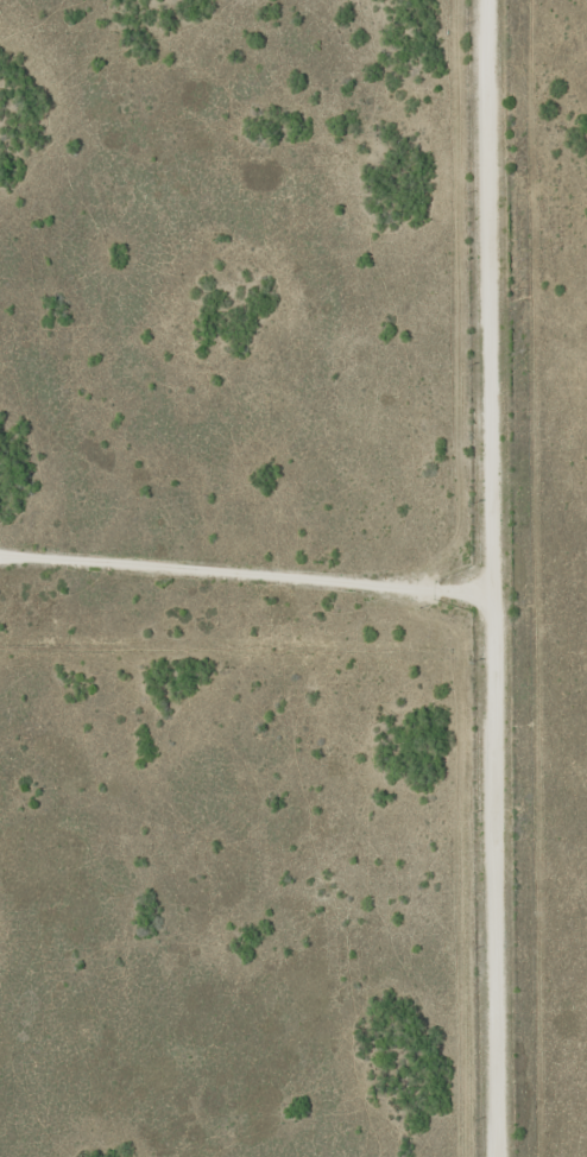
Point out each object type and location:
road: (475, 578)

